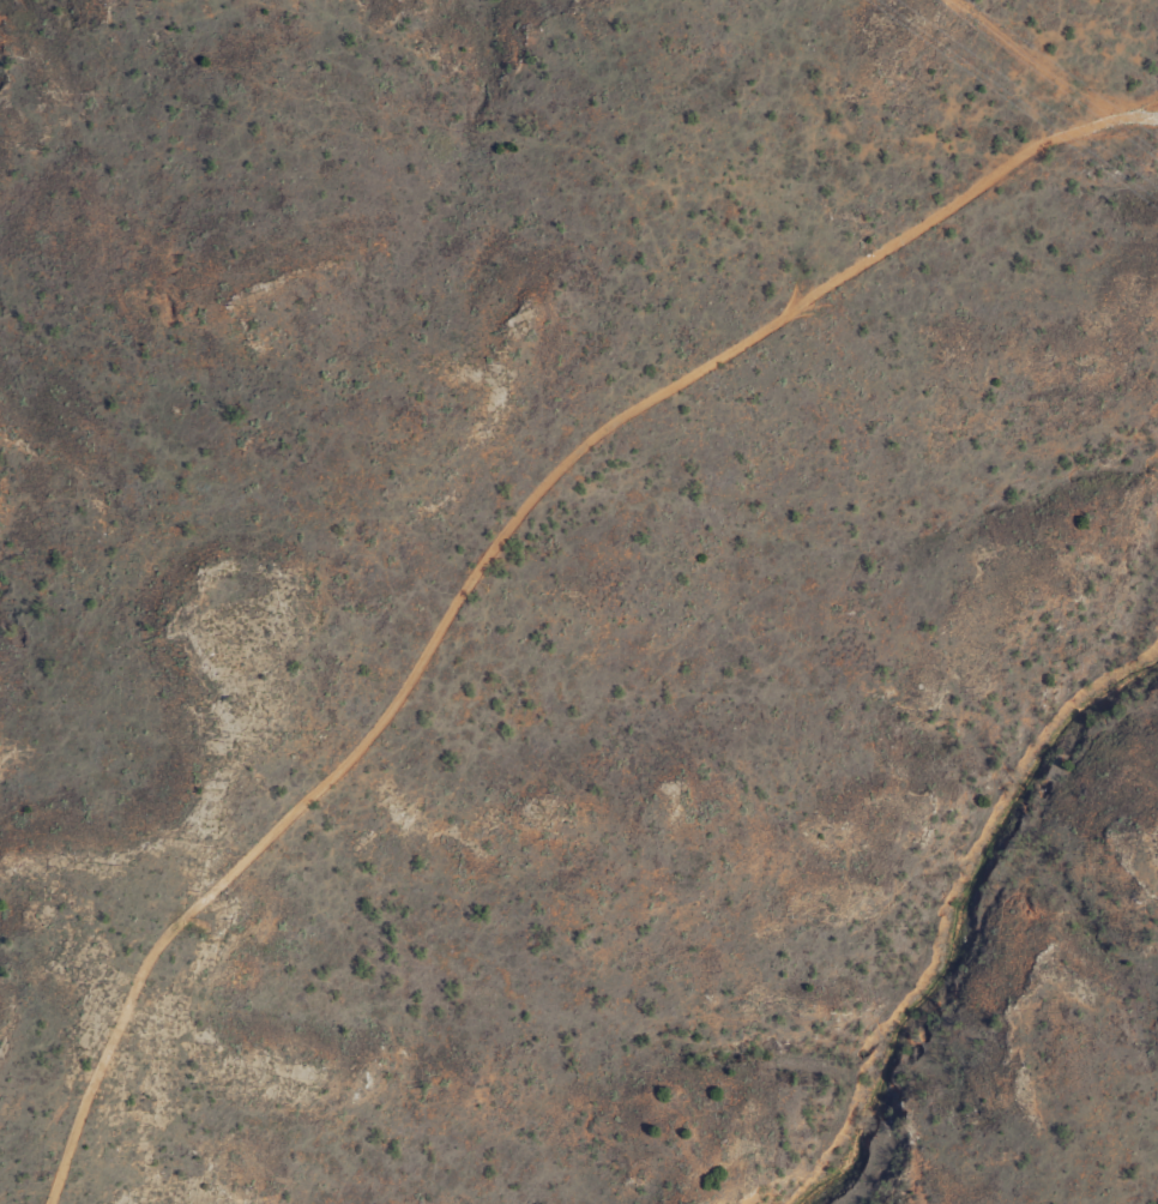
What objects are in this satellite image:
road: (488, 542)

